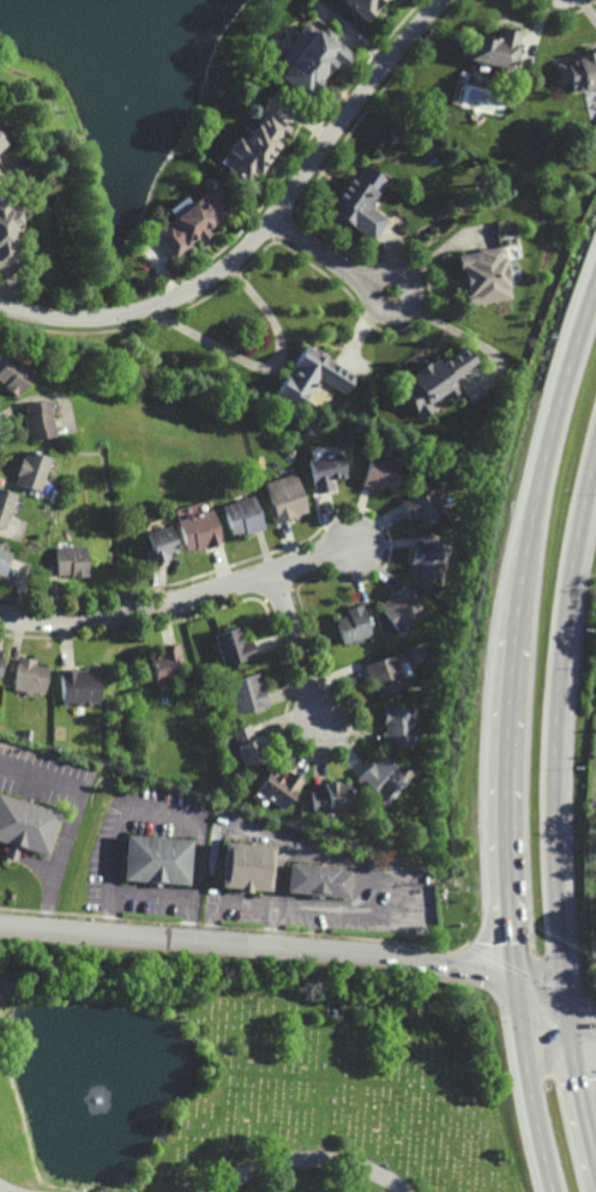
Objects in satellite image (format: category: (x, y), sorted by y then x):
building: (384, 1)
building: (360, 8)
building: (490, 55)
building: (311, 64)
building: (578, 74)
building: (1, 140)
building: (257, 146)
building: (356, 198)
building: (191, 219)
road: (265, 230)
building: (6, 231)
road: (324, 251)
building: (481, 273)
road: (381, 275)
road: (266, 368)
building: (11, 373)
building: (308, 373)
building: (431, 377)
building: (344, 405)
building: (35, 420)
building: (29, 469)
building: (379, 470)
building: (326, 471)
building: (287, 500)
building: (421, 505)
building: (4, 506)
building: (243, 516)
building: (199, 530)
building: (159, 546)
building: (2, 559)
building: (68, 560)
building: (429, 560)
road: (181, 601)
road: (517, 602)
building: (462, 604)
building: (399, 607)
building: (353, 625)
road: (297, 645)
building: (234, 648)
building: (0, 661)
building: (165, 663)
building: (28, 675)
building: (384, 675)
building: (77, 687)
building: (247, 694)
road: (556, 702)
building: (398, 726)
building: (25, 734)
building: (248, 747)
building: (379, 777)
building: (278, 788)
building: (331, 797)
road: (68, 819)
building: (24, 826)
building: (300, 826)
building: (156, 860)
building: (246, 867)
building: (317, 880)
road: (288, 947)
traffic signals: (513, 989)
traffic signals: (565, 1016)
road: (579, 1019)
road: (524, 1062)
road: (573, 1065)
park: (236, 1078)
road: (311, 1157)
road: (0, 1191)

